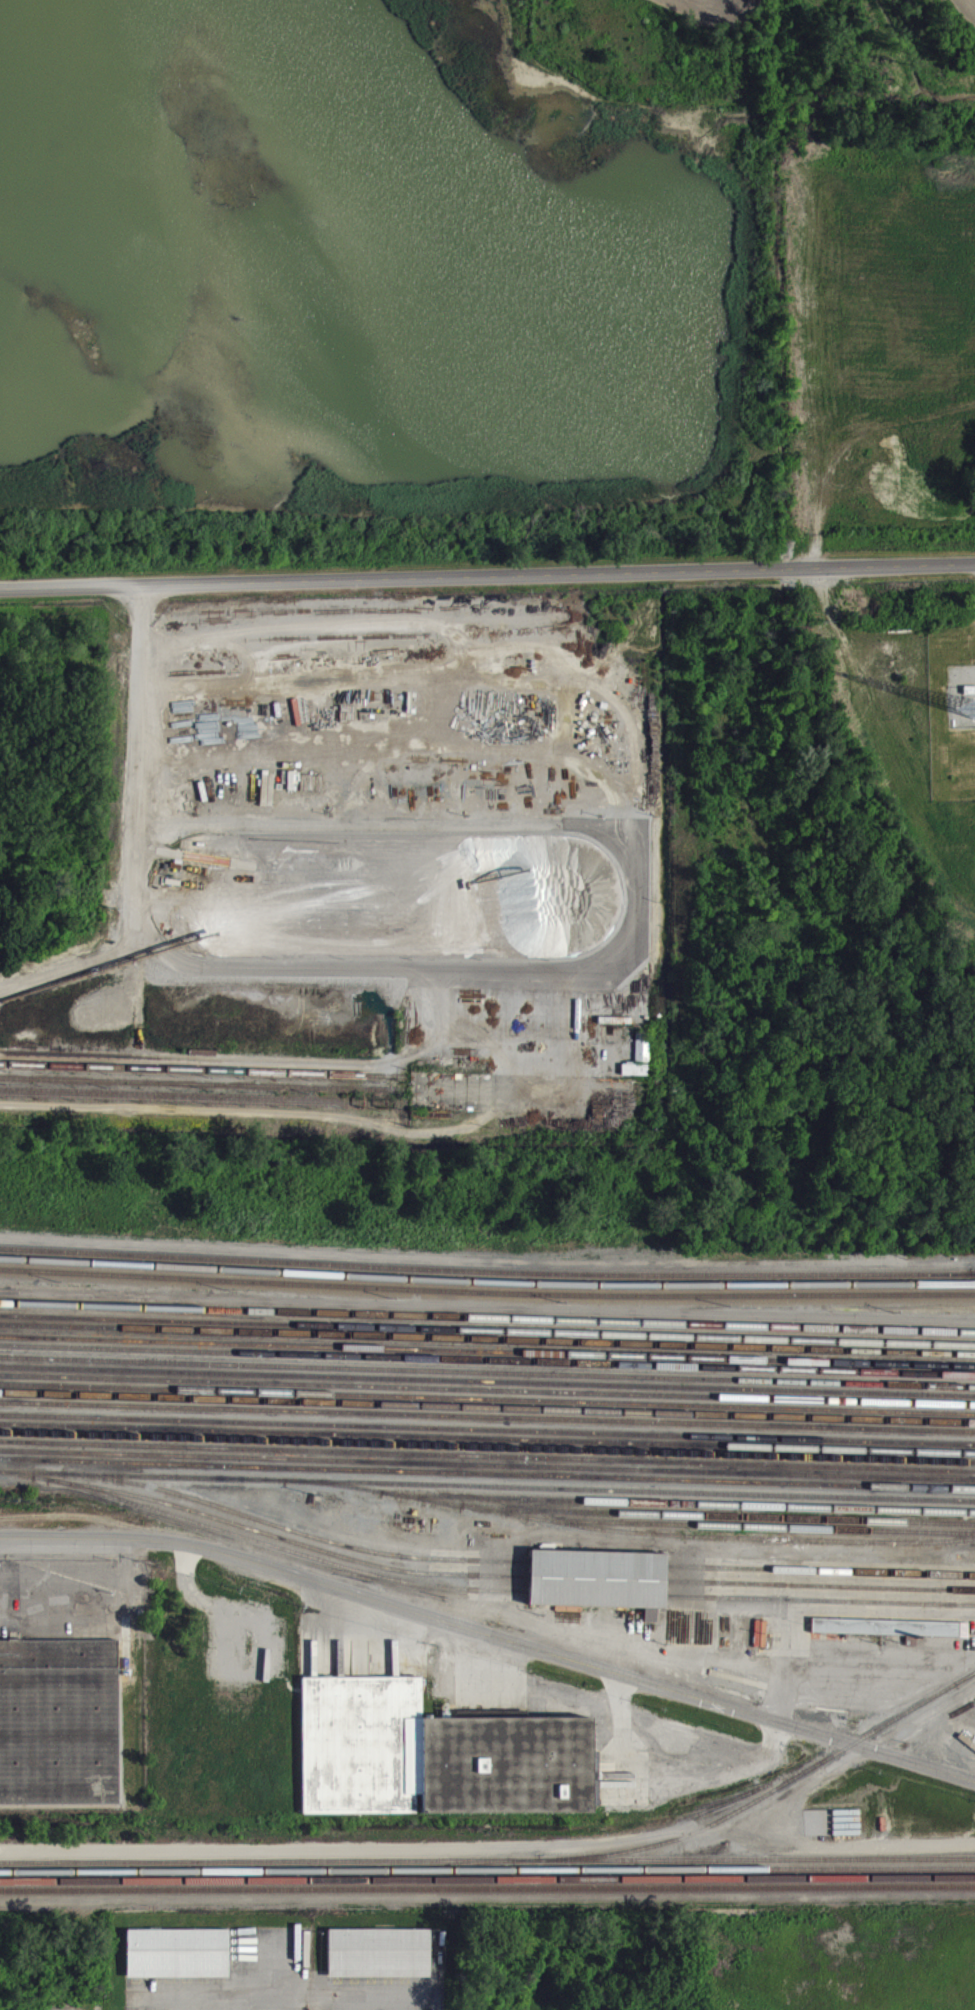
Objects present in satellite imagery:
road: (487, 578)
road: (134, 736)
building: (640, 1064)
railway: (204, 1069)
railway: (201, 1082)
railway: (203, 1096)
railway: (487, 1275)
railway: (487, 1280)
railway: (487, 1290)
railway: (487, 1300)
road: (487, 1316)
railway: (487, 1327)
railway: (487, 1339)
railway: (487, 1348)
railway: (487, 1359)
railway: (487, 1368)
railway: (487, 1381)
railway: (487, 1389)
railway: (487, 1398)
railway: (487, 1407)
railway: (487, 1417)
railway: (487, 1425)
railway: (487, 1437)
railway: (487, 1446)
railway: (487, 1455)
railway: (487, 1465)
railway: (487, 1472)
railway: (487, 1481)
railway: (487, 1494)
railway: (679, 1512)
railway: (720, 1524)
railway: (752, 1536)
railway: (295, 1538)
railway: (264, 1540)
railway: (628, 1540)
railway: (287, 1557)
railway: (598, 1573)
railway: (820, 1579)
building: (598, 1586)
railway: (598, 1587)
railway: (820, 1593)
railway: (597, 1602)
railway: (820, 1607)
railway: (490, 1611)
road: (491, 1636)
building: (893, 1636)
railway: (966, 1687)
road: (539, 1690)
building: (58, 1720)
building: (431, 1752)
railway: (770, 1801)
railway: (724, 1813)
railway: (629, 1814)
railway: (487, 1858)
railway: (451, 1863)
railway: (487, 1867)
railway: (487, 1877)
railway: (487, 1886)
building: (178, 1961)
building: (380, 1961)
road: (297, 1999)
road: (416, 2009)

